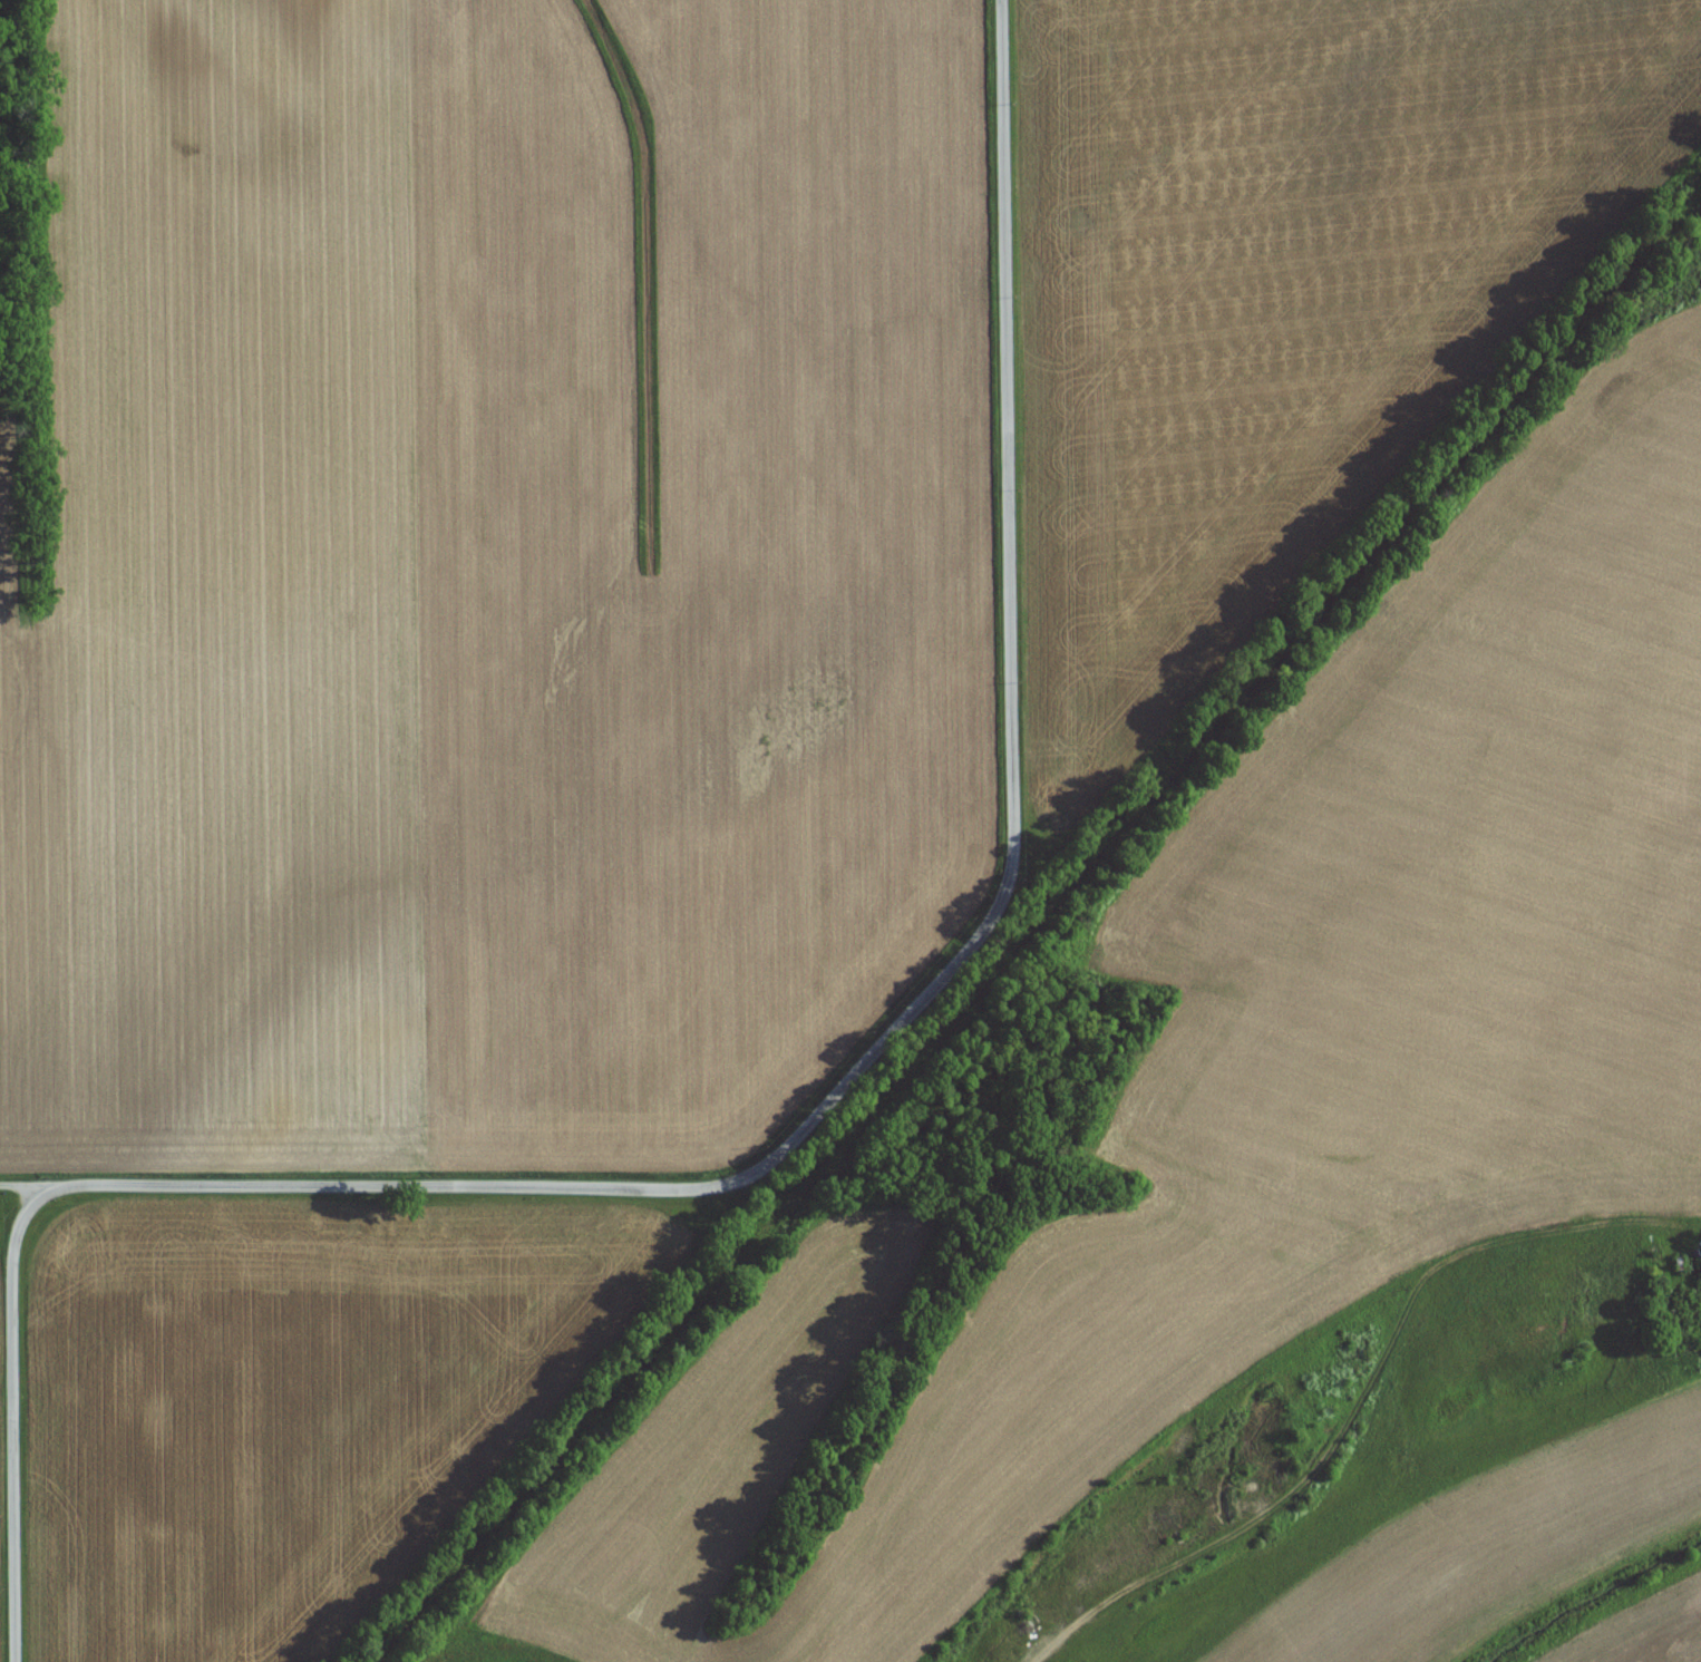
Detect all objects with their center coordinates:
road: (939, 981)
road: (26, 1187)
road: (12, 1435)

